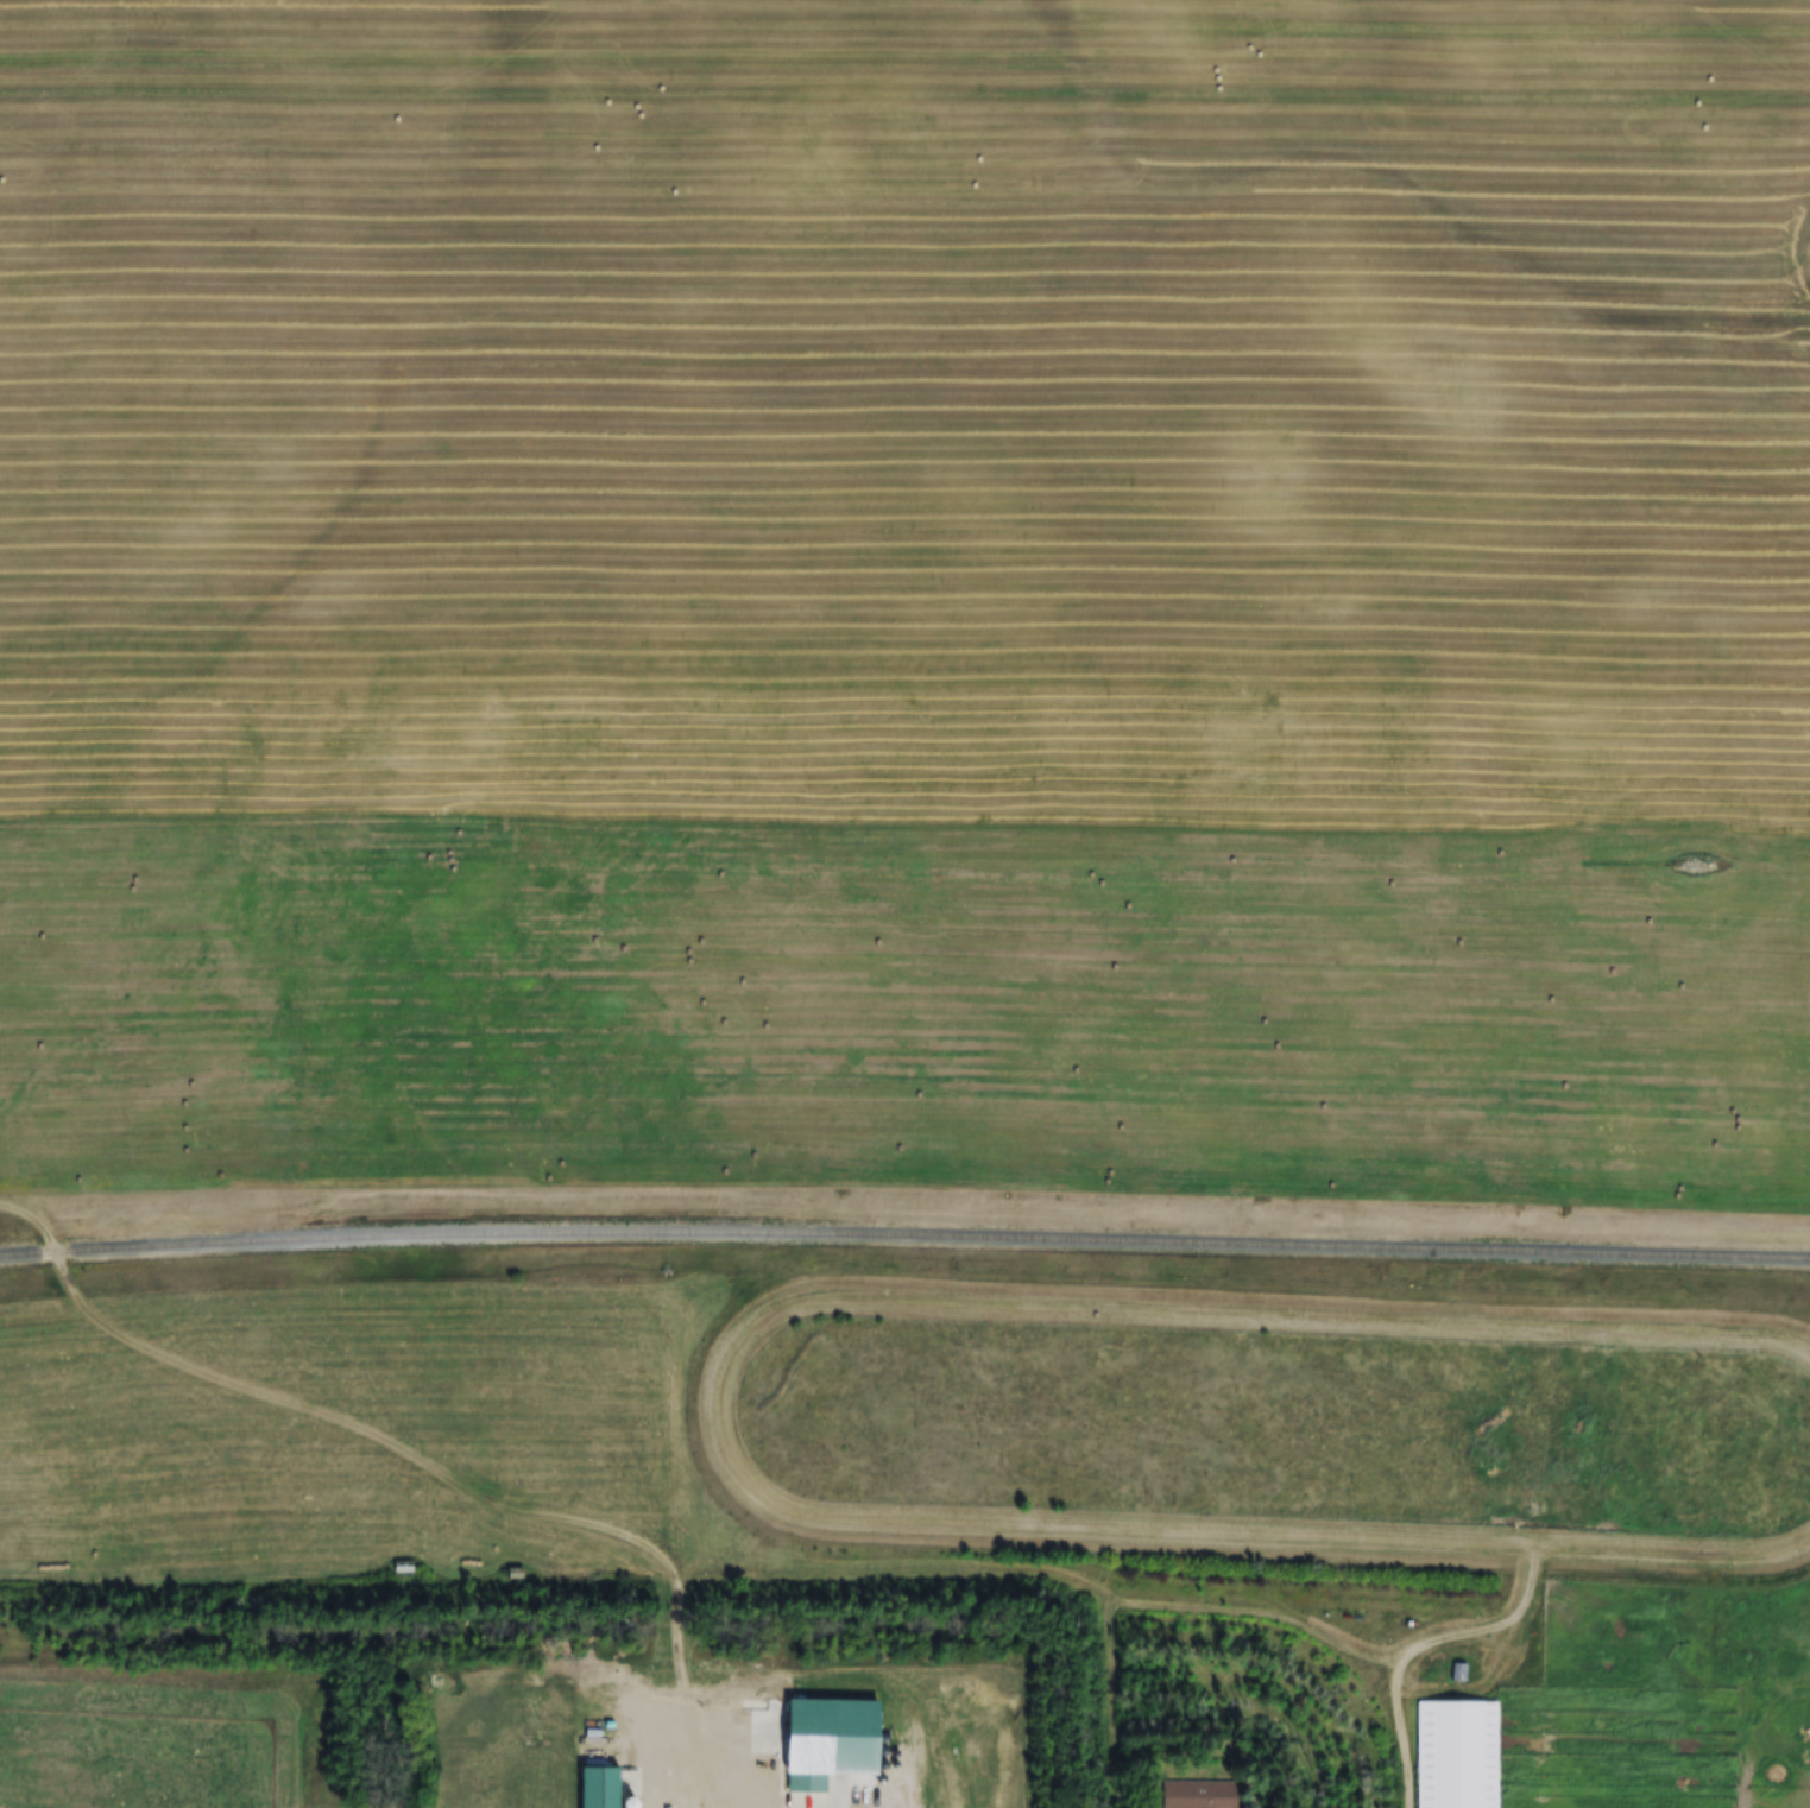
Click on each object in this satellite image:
railway: (904, 1237)
raceway: (713, 1410)
road: (377, 1436)
building: (401, 1569)
building: (512, 1574)
building: (1457, 1674)
building: (578, 1724)
silo: (578, 1724)
building: (825, 1743)
road: (713, 1752)
building: (1455, 1756)
building: (1197, 1795)

